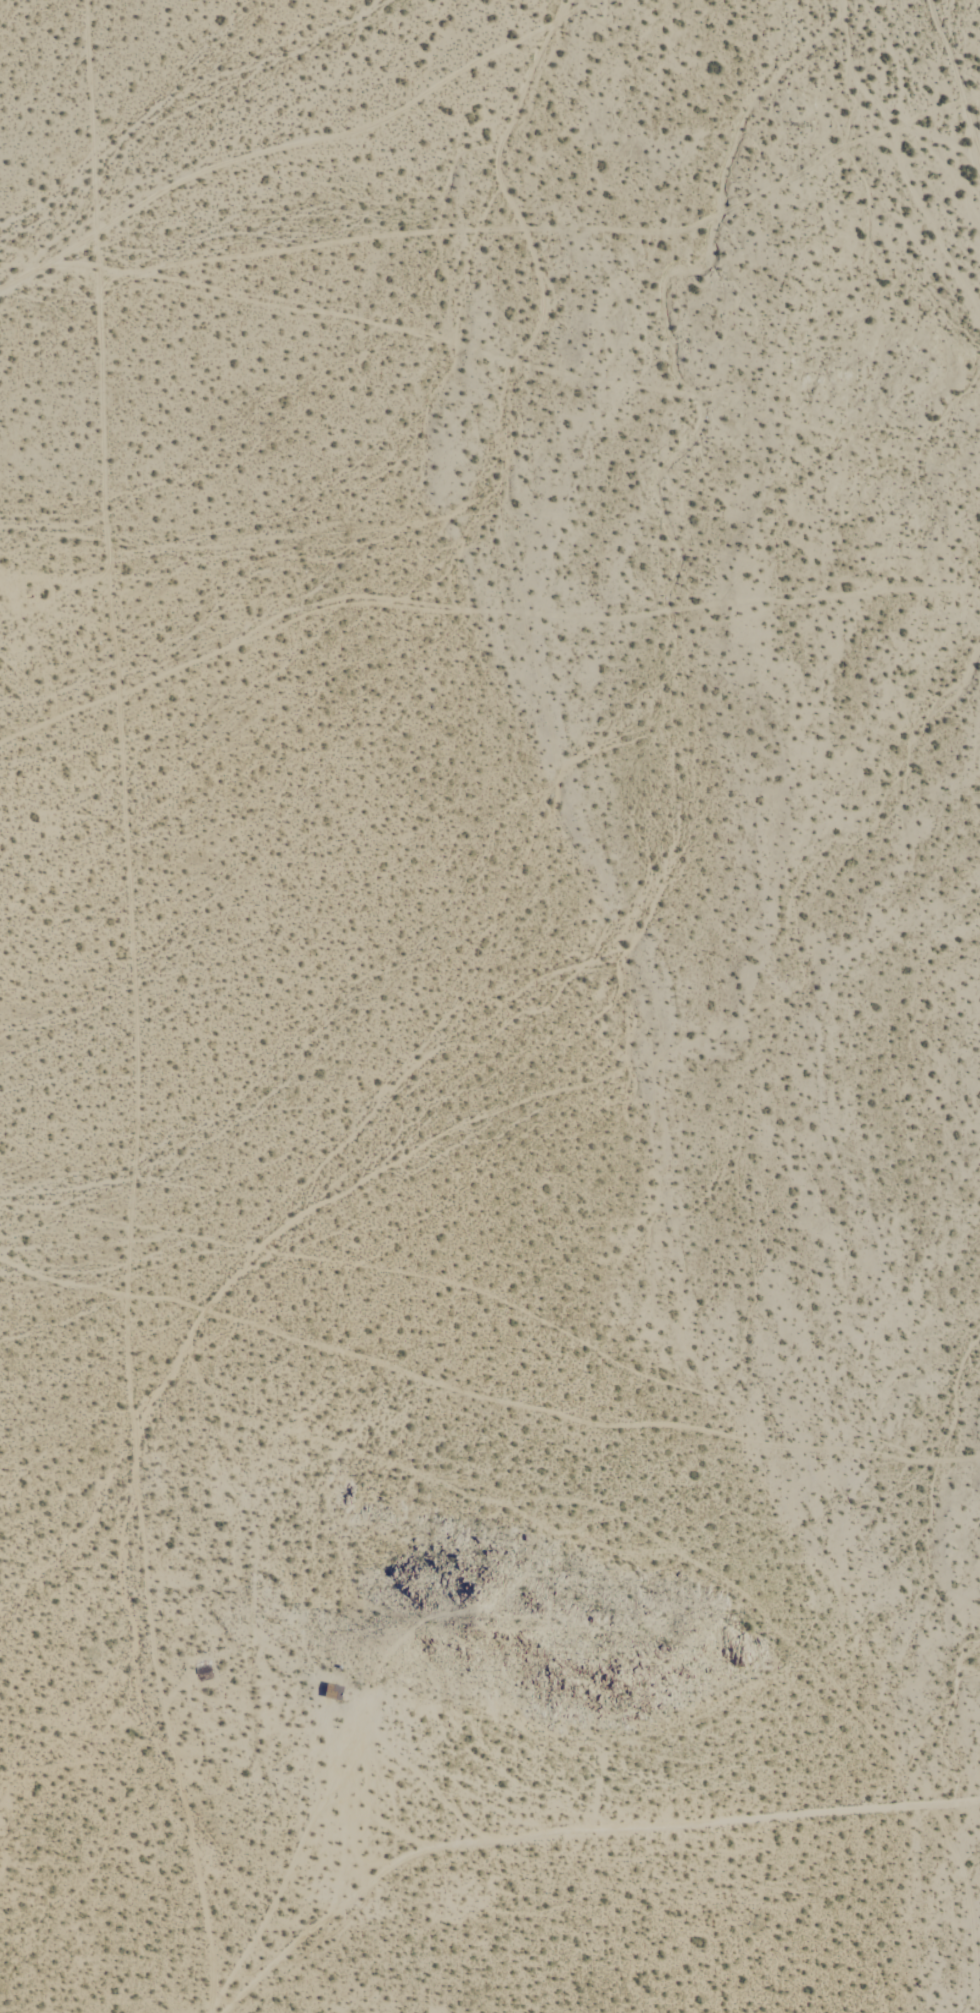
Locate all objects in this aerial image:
road: (283, 1865)

